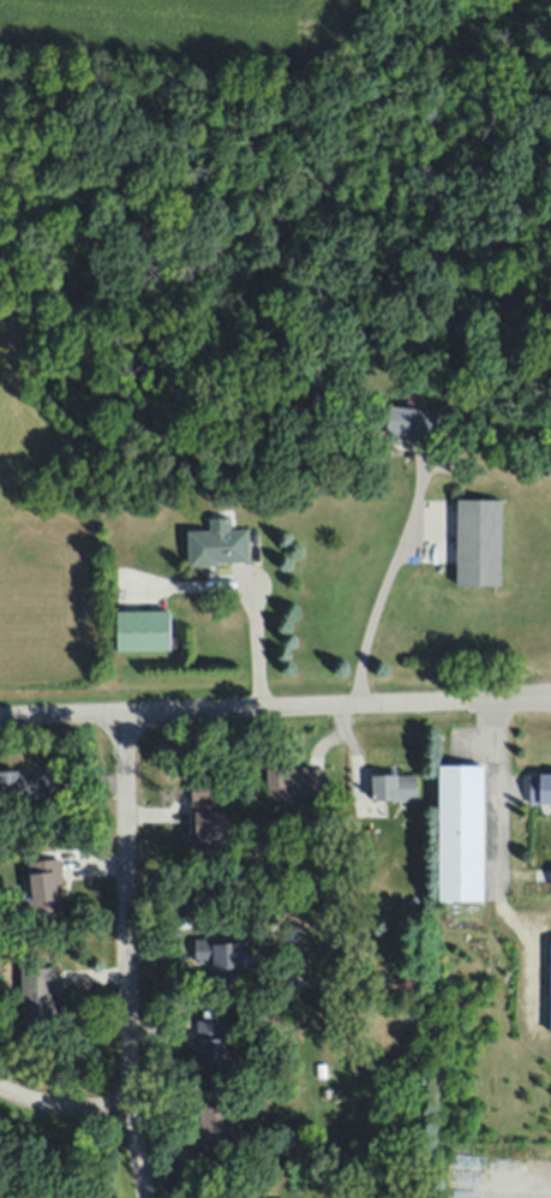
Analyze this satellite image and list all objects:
building: (406, 421)
building: (547, 461)
building: (479, 542)
building: (217, 543)
road: (391, 580)
building: (143, 632)
road: (248, 640)
road: (275, 708)
building: (297, 781)
building: (28, 782)
building: (394, 788)
building: (540, 788)
building: (205, 816)
building: (460, 834)
building: (234, 872)
building: (46, 887)
building: (412, 902)
building: (319, 905)
road: (128, 956)
building: (218, 956)
building: (550, 987)
building: (38, 990)
building: (210, 1041)
building: (322, 1071)
building: (327, 1095)
road: (65, 1104)
building: (215, 1130)

